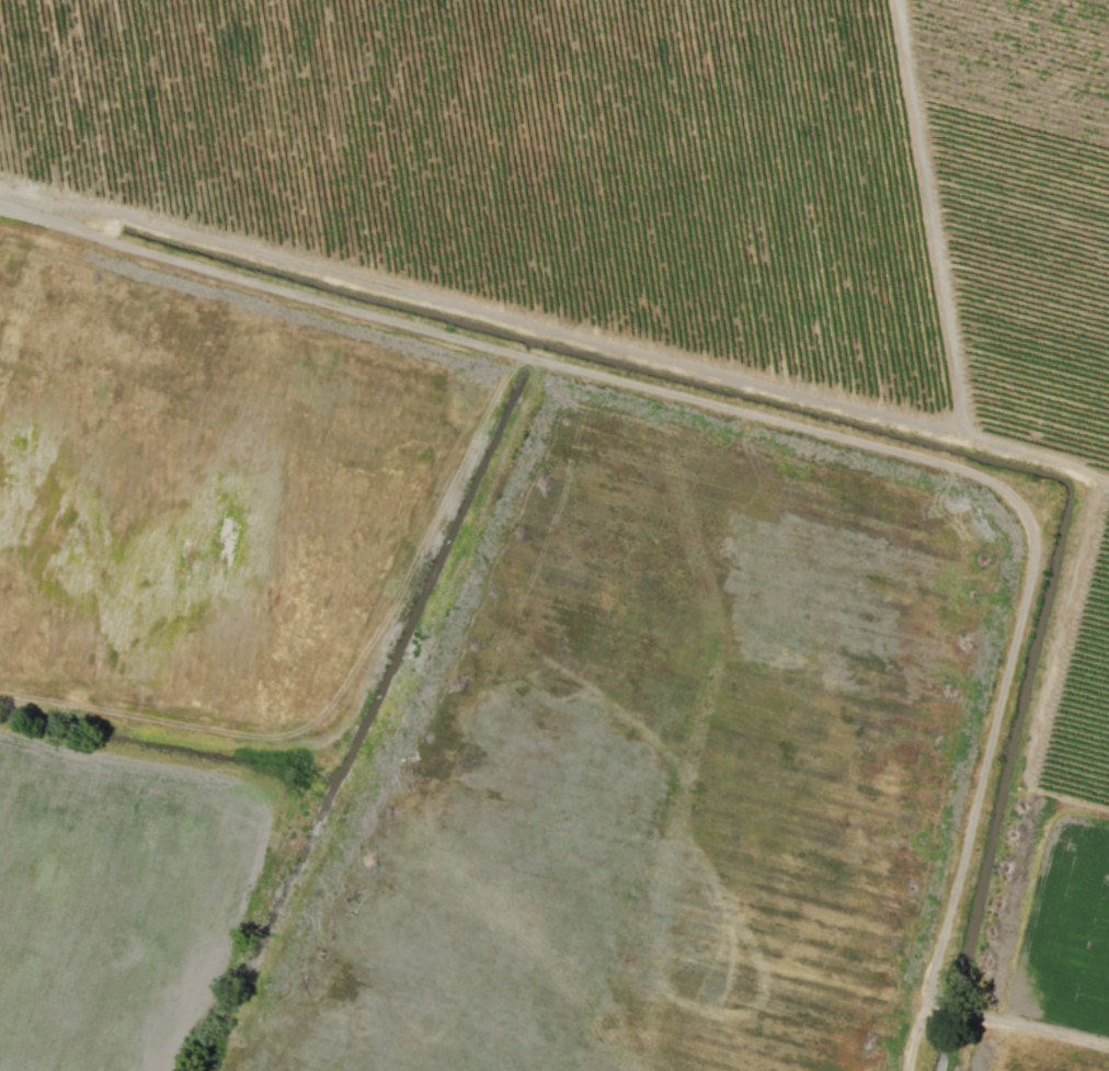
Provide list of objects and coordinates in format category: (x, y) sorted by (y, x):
road: (1048, 1028)

